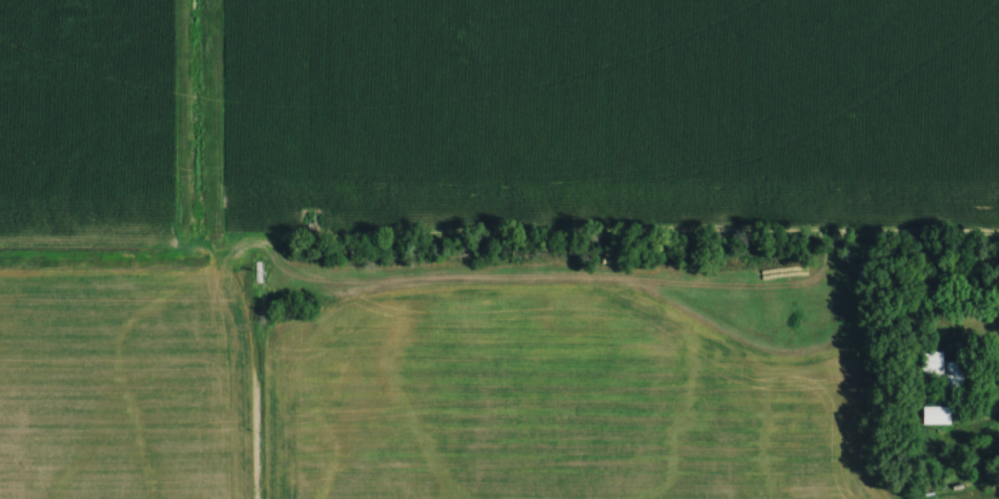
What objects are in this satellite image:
building: (936, 376)
building: (930, 416)
road: (970, 425)

